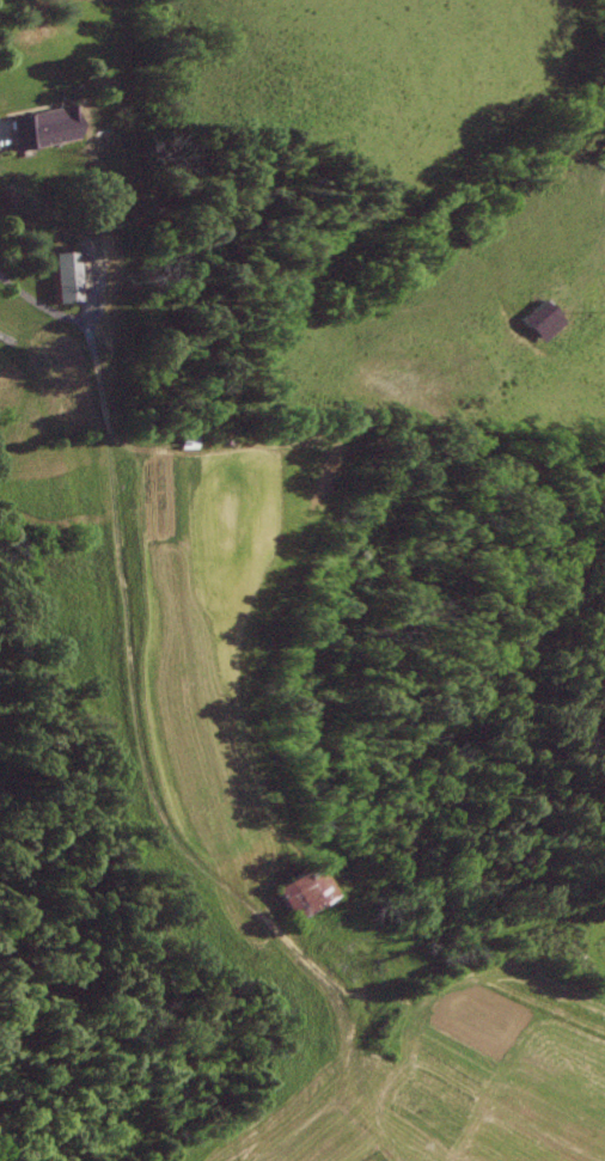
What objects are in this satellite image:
building: (37, 126)
building: (12, 204)
building: (61, 270)
road: (57, 314)
building: (531, 319)
road: (142, 780)
building: (297, 894)

